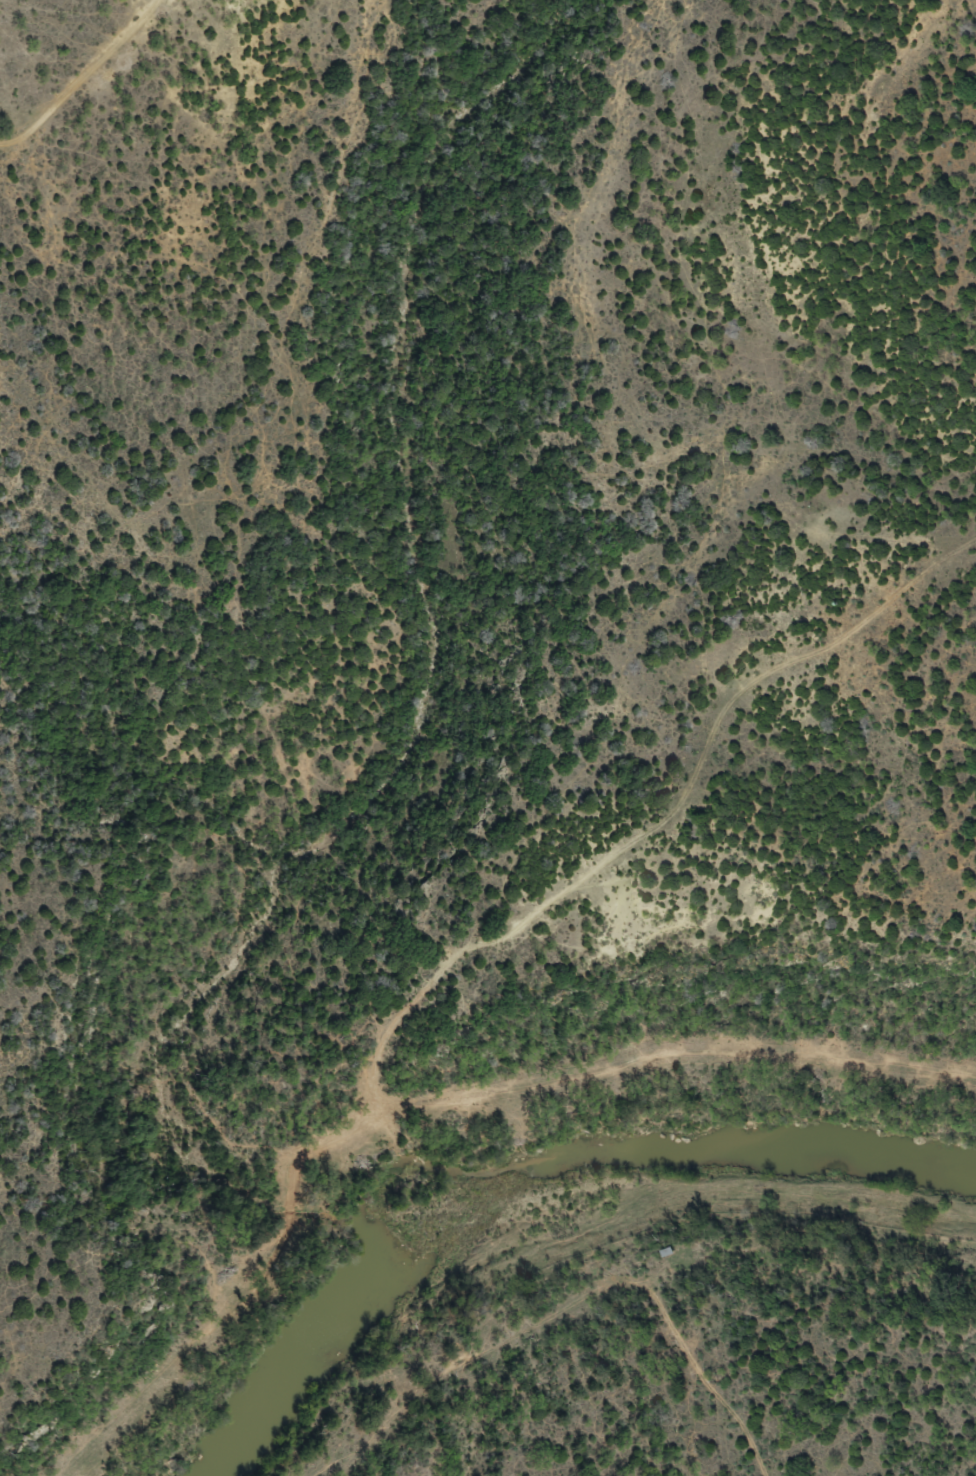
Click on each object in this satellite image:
road: (32, 1352)
road: (723, 1434)

